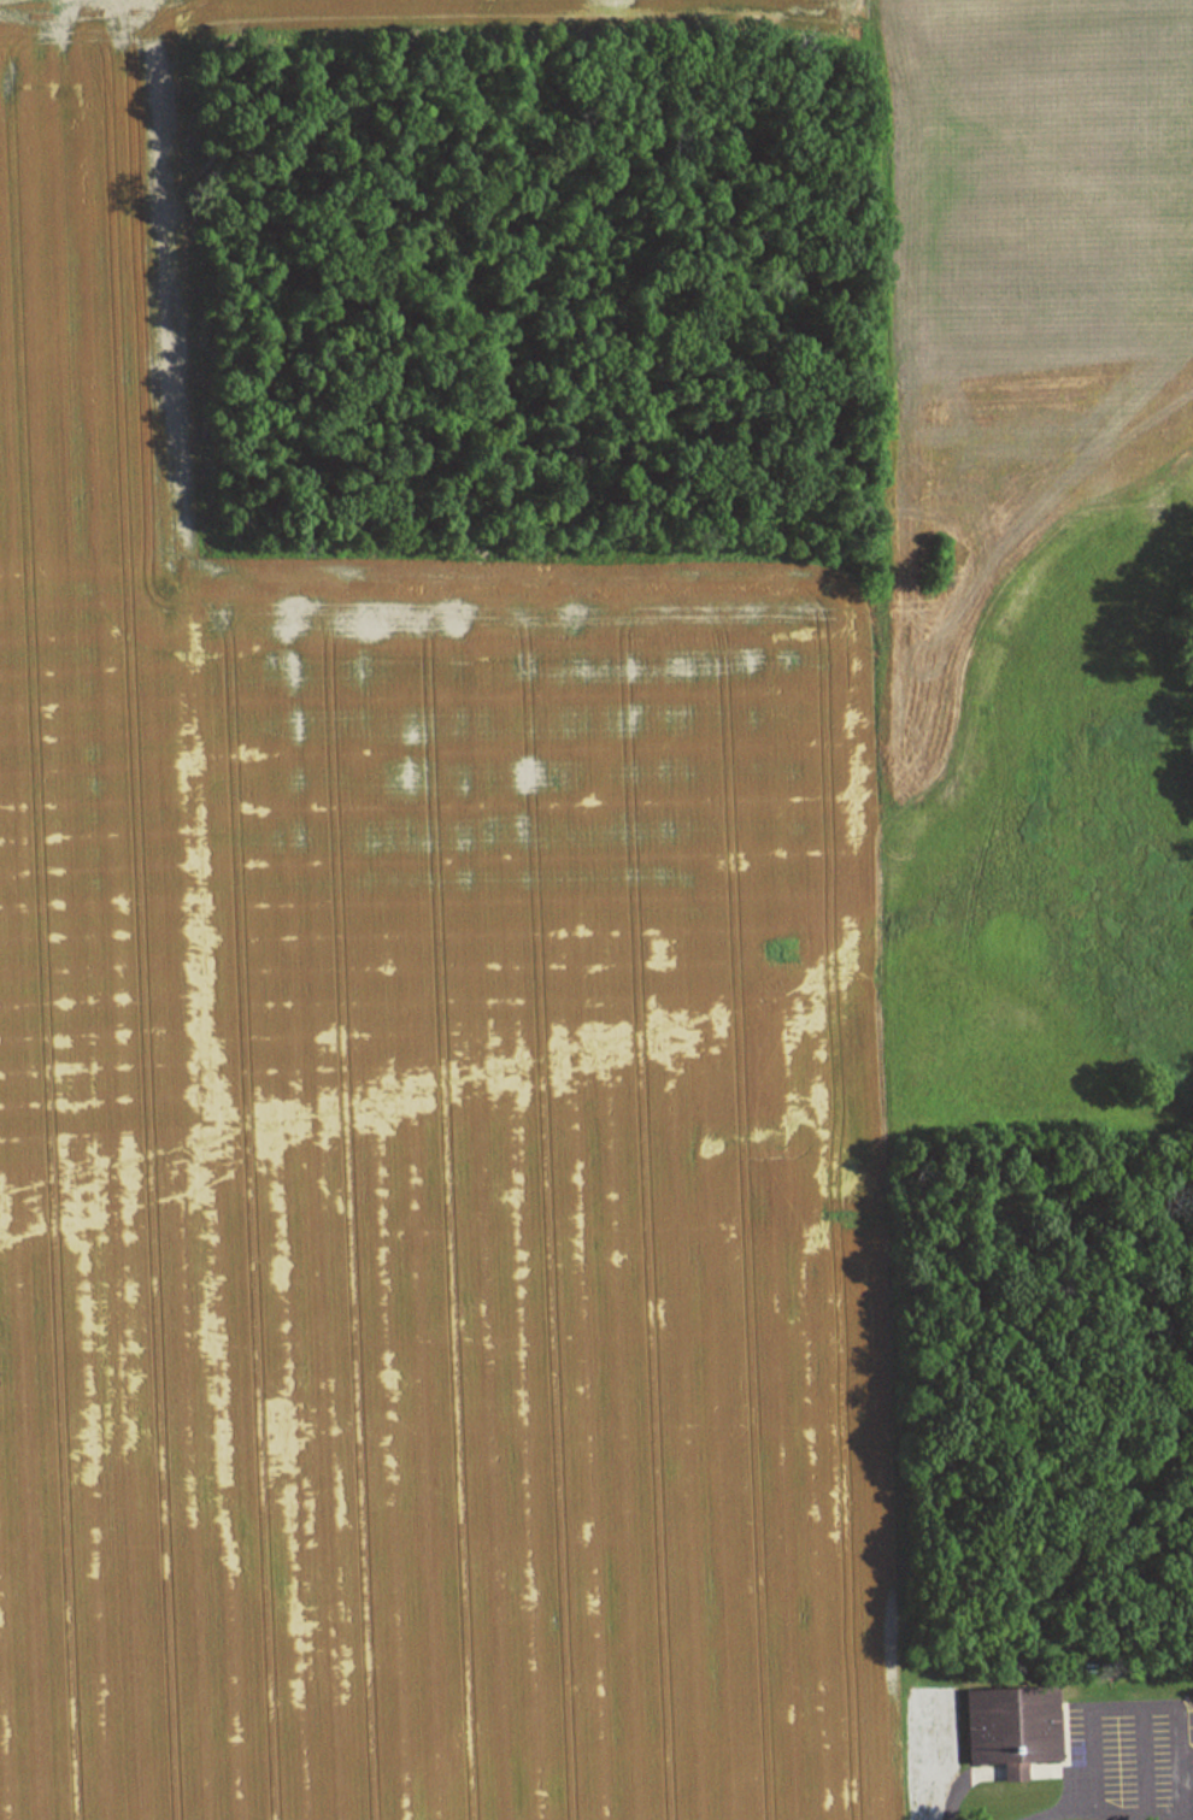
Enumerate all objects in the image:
crop: (412, 1099)
building: (1005, 1728)
road: (1124, 1819)

